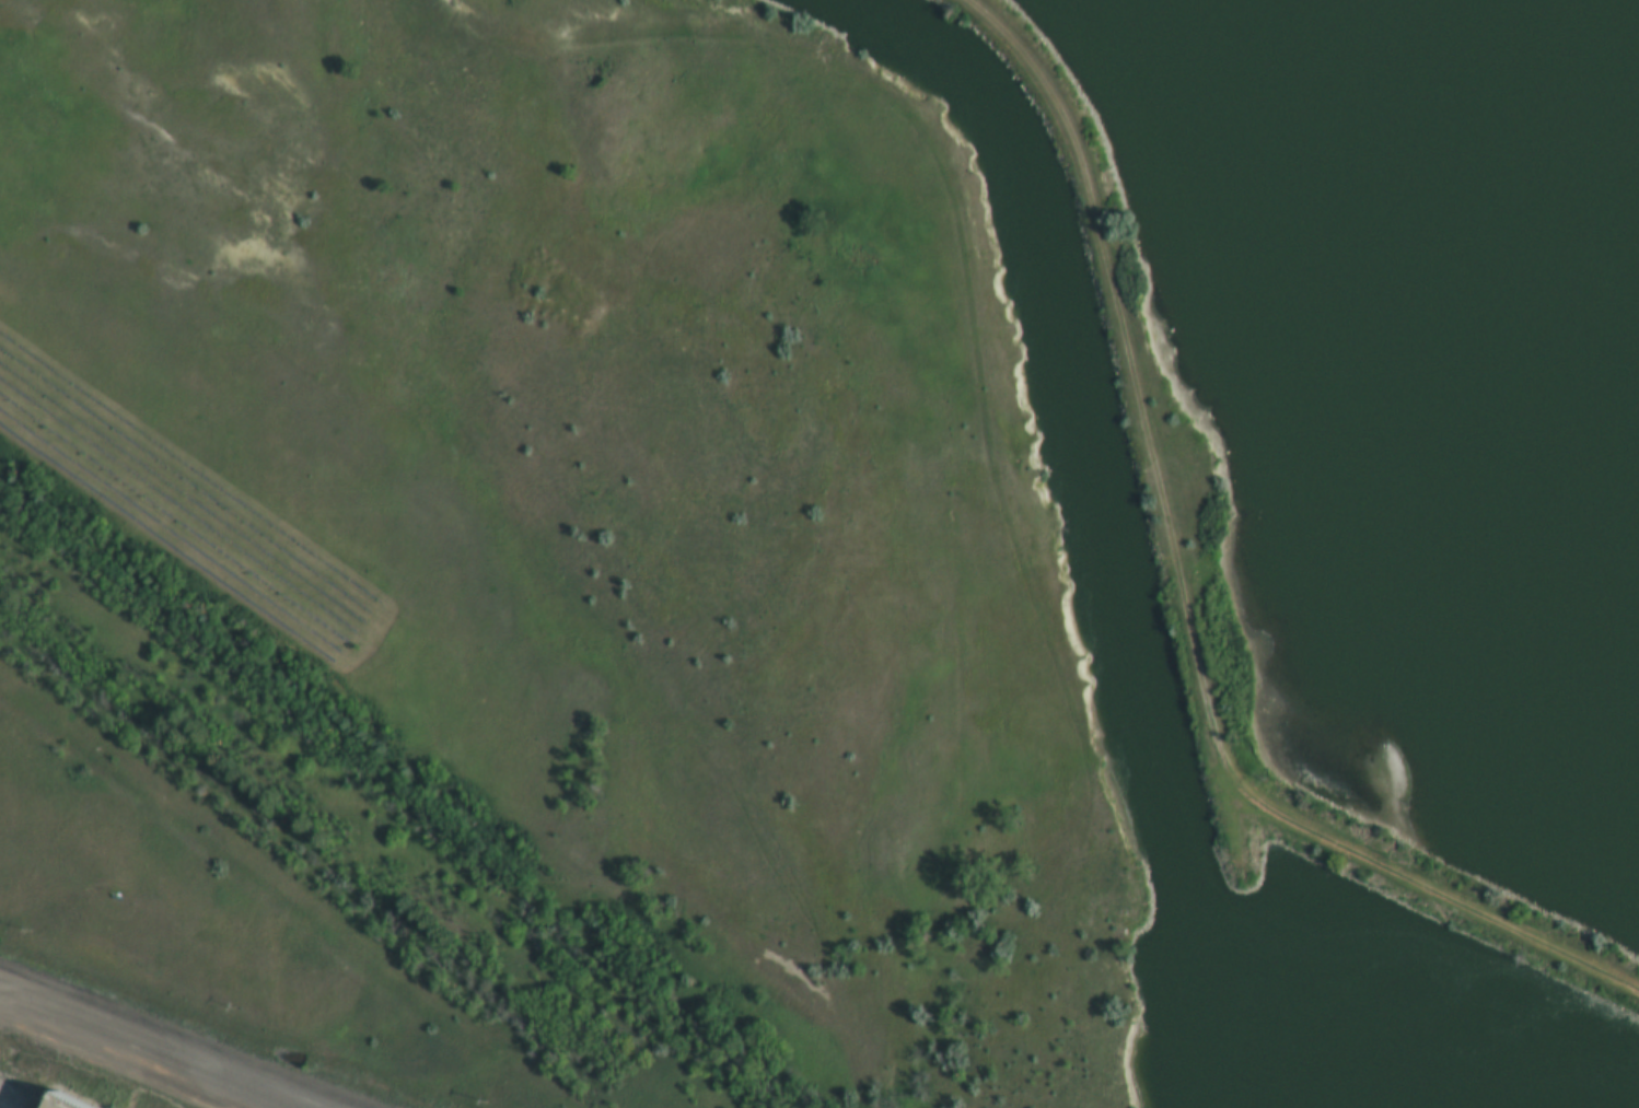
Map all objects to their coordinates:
road: (1182, 599)
road: (133, 1055)

